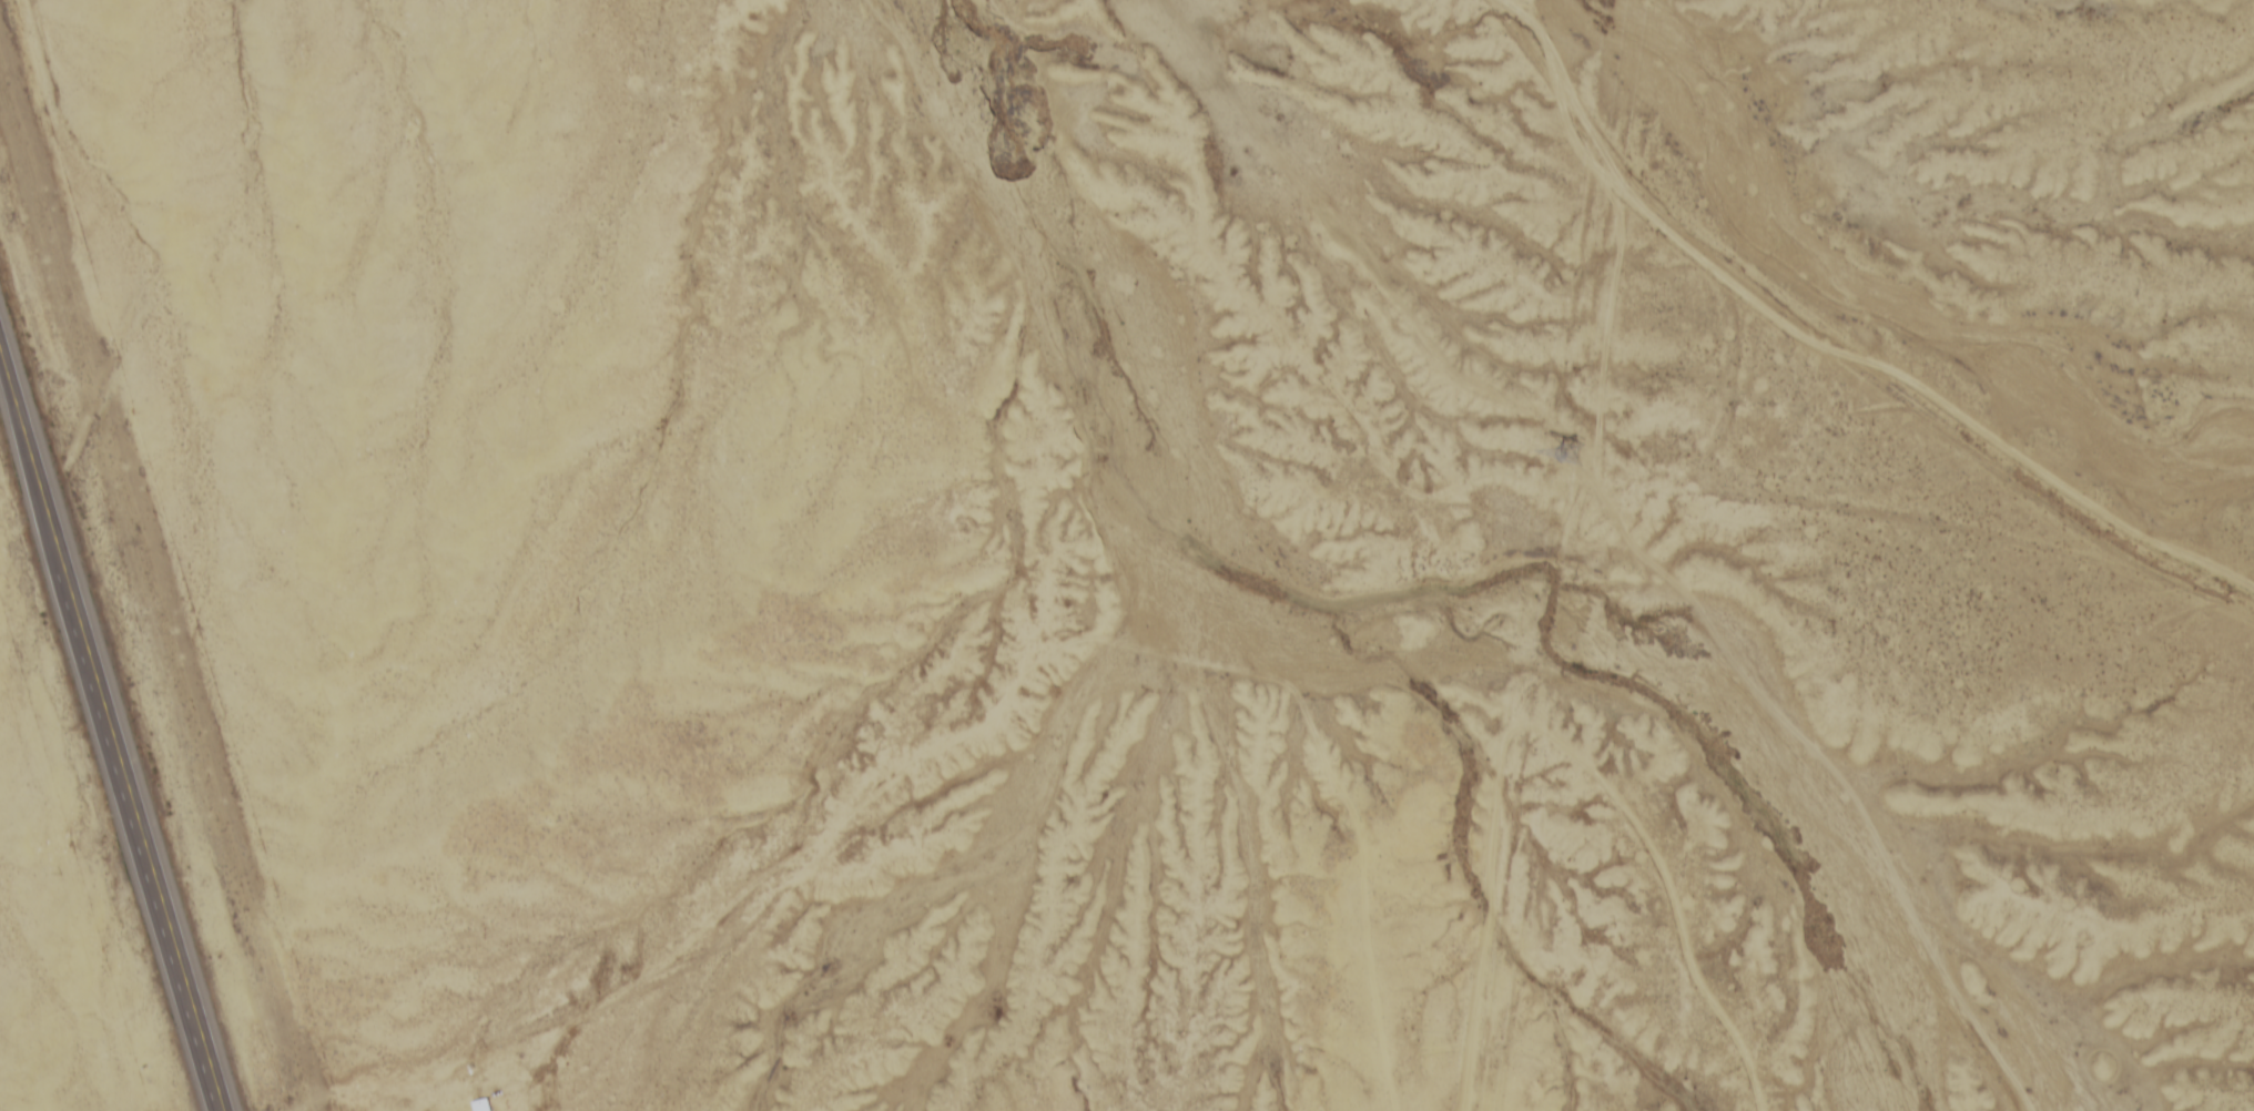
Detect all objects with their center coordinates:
road: (1841, 345)
power tower: (1562, 459)
river: (1373, 572)
road: (112, 727)

